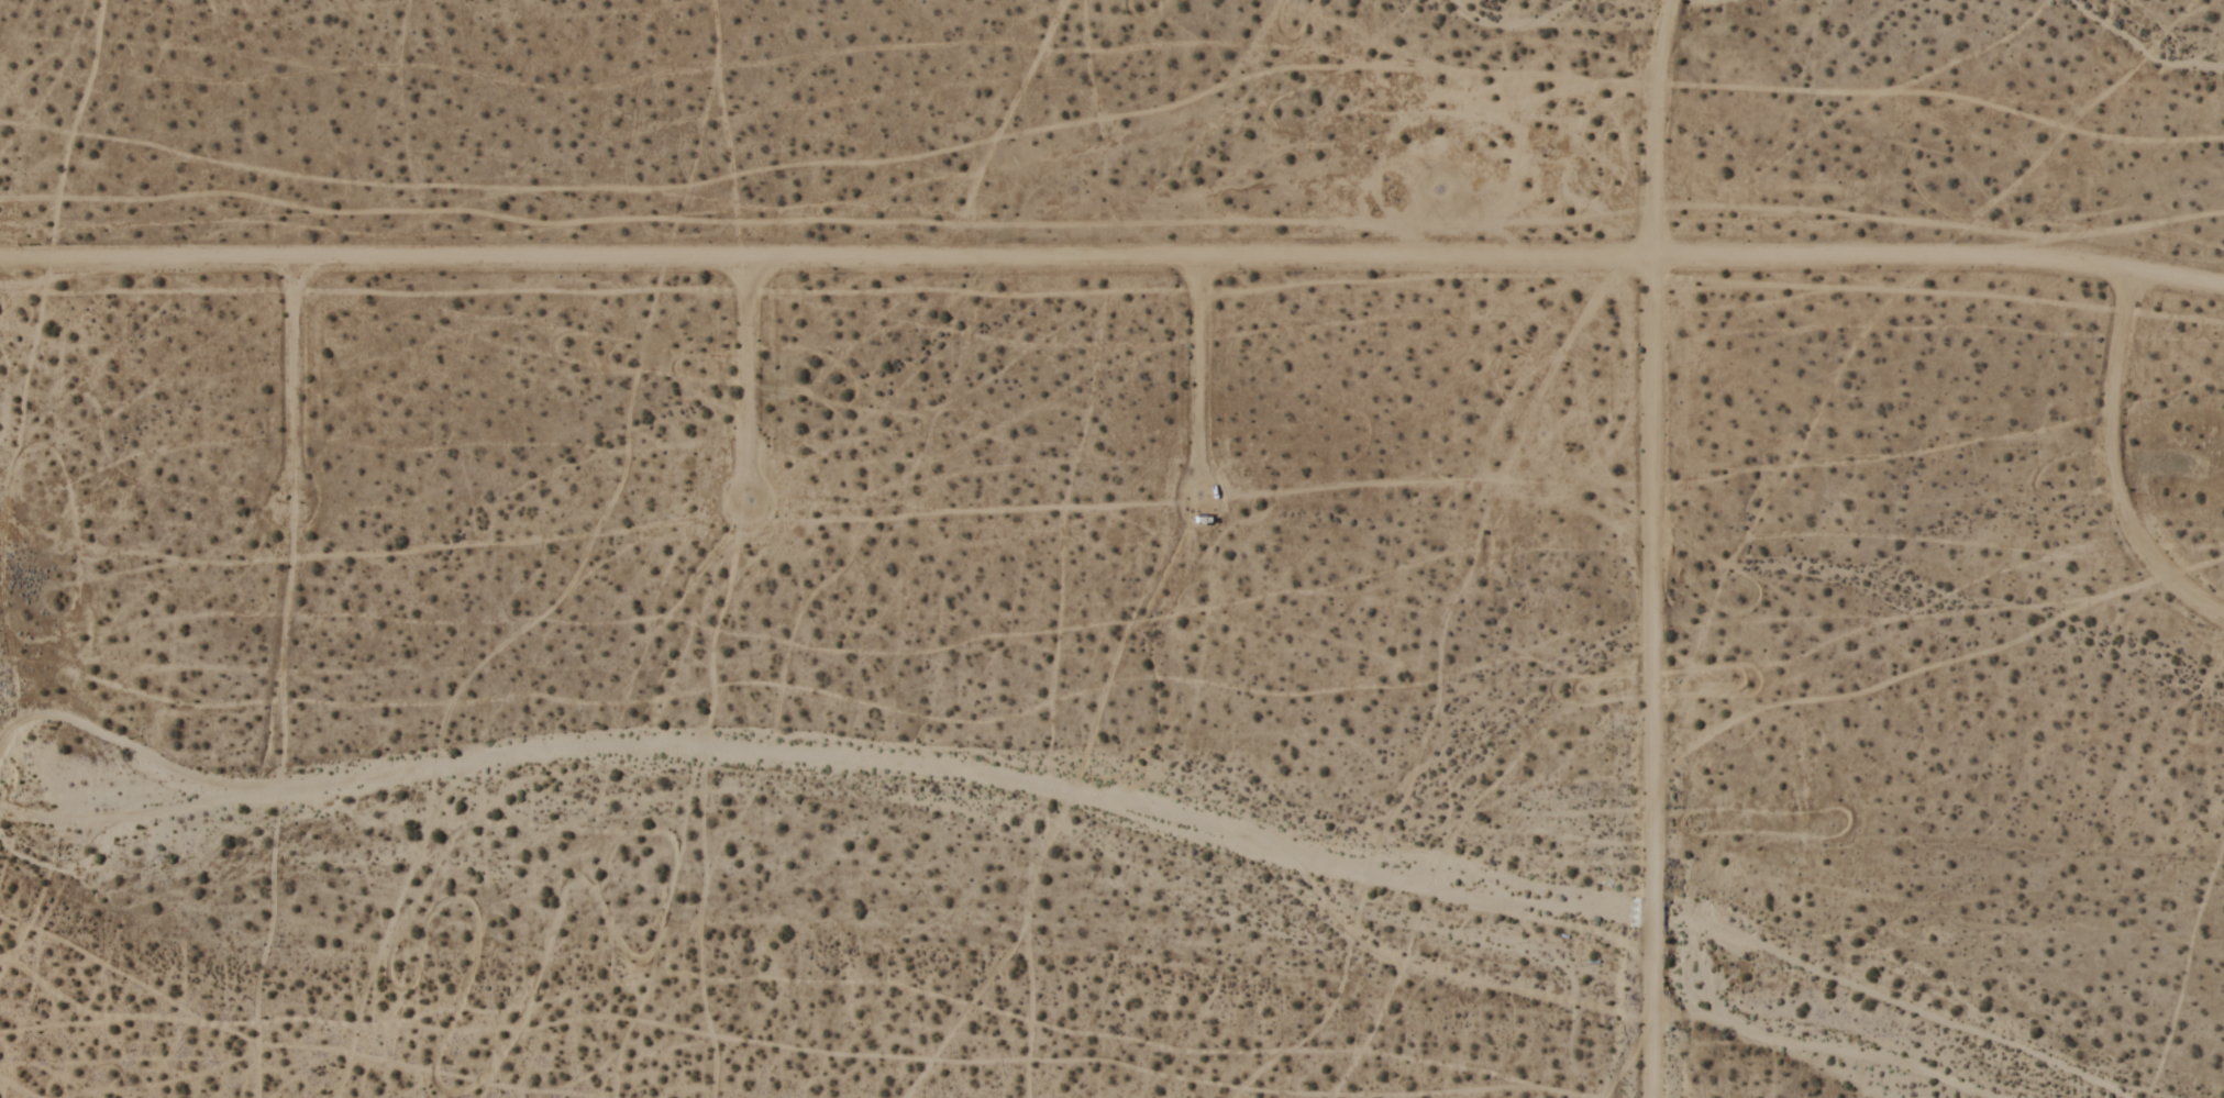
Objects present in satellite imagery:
road: (1113, 262)
road: (297, 380)
road: (1202, 384)
road: (750, 385)
road: (2114, 467)
road: (1656, 547)
crop: (1118, 625)

